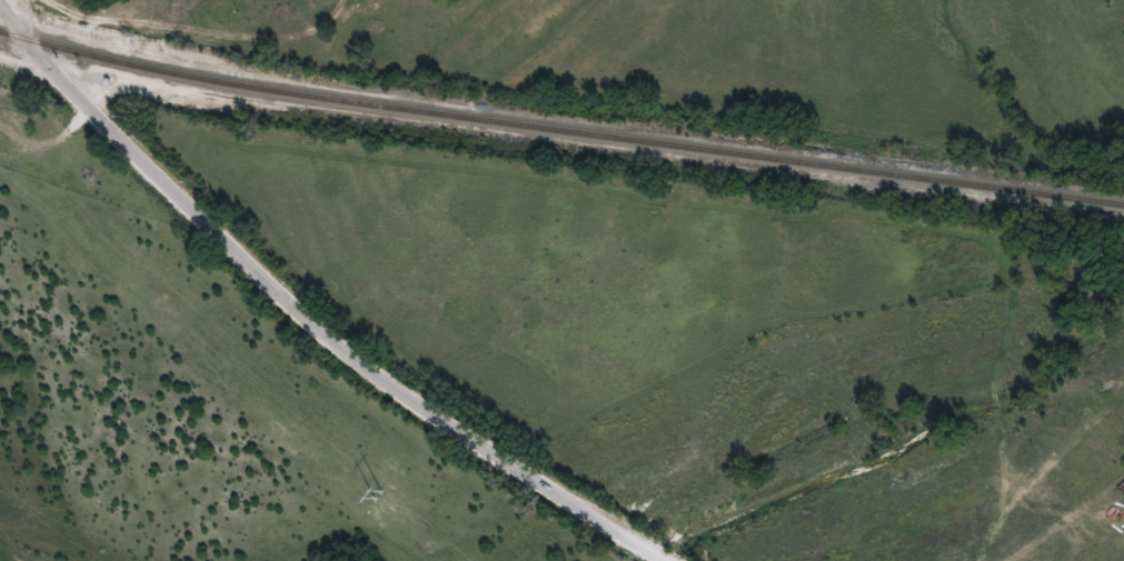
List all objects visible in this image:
railway: (559, 130)
power tower: (161, 297)
road: (309, 311)
power tower: (428, 545)

